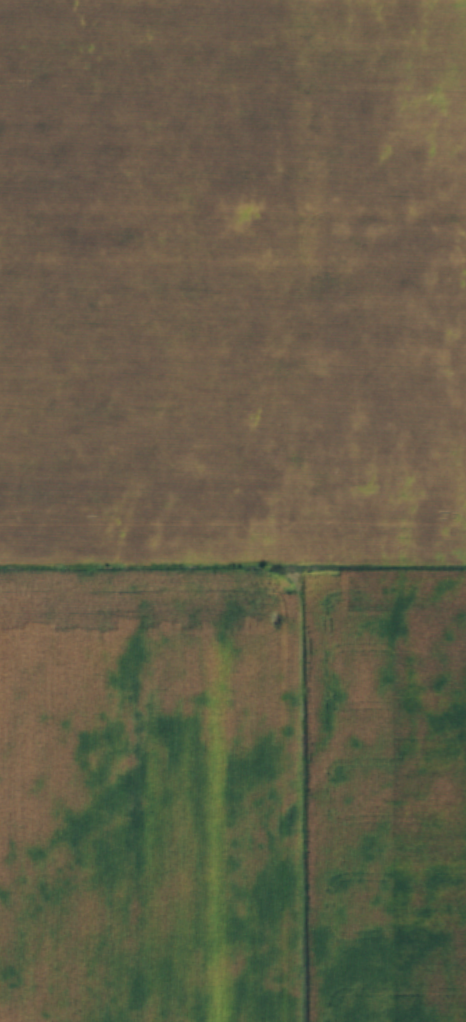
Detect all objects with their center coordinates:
crop: (232, 274)

